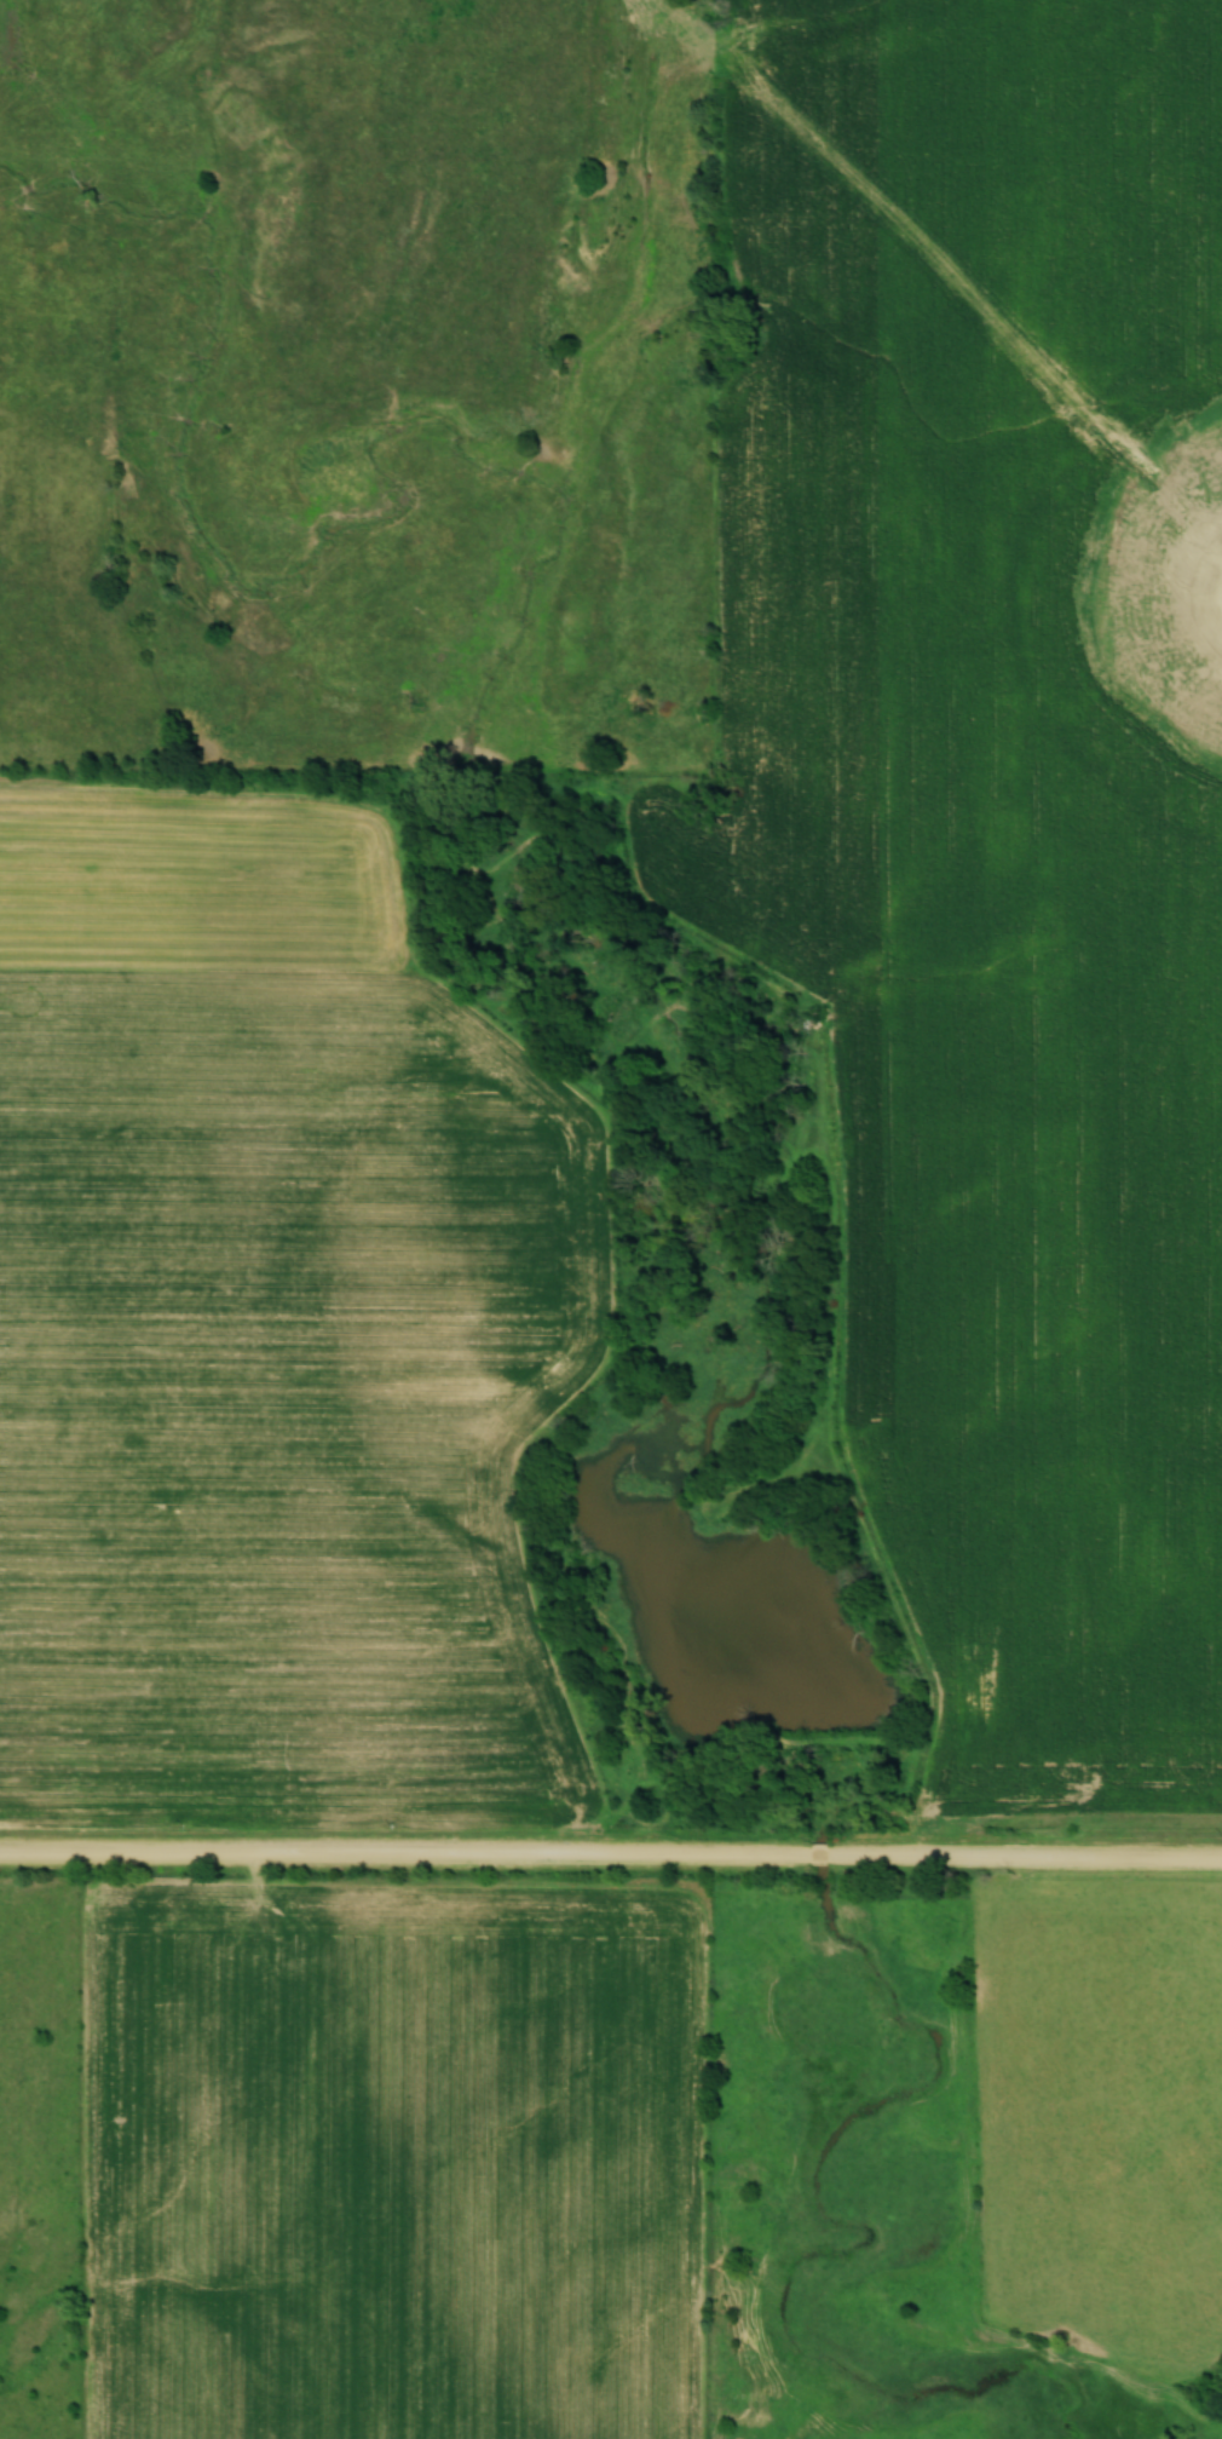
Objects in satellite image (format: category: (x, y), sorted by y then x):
road: (611, 1854)

